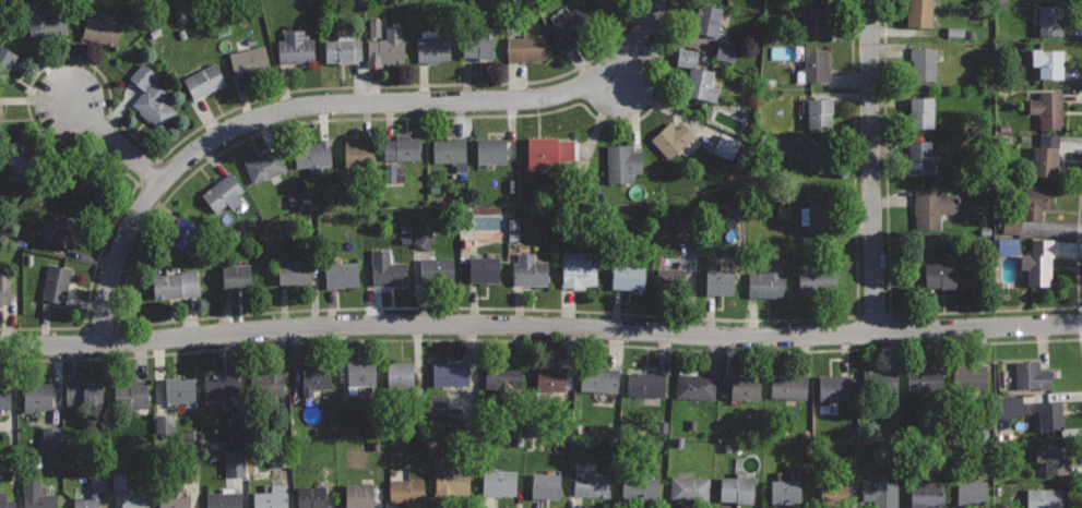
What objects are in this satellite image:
building: (608, 1)
building: (919, 13)
building: (815, 17)
building: (709, 19)
building: (1049, 20)
building: (46, 24)
building: (570, 27)
building: (102, 29)
road: (638, 35)
building: (478, 40)
building: (432, 46)
building: (296, 47)
building: (387, 47)
building: (343, 48)
building: (525, 48)
building: (723, 50)
building: (249, 61)
building: (5, 62)
building: (1048, 62)
building: (816, 64)
building: (924, 64)
building: (697, 74)
building: (204, 80)
building: (151, 96)
road: (292, 108)
building: (1050, 110)
building: (820, 112)
building: (922, 112)
road: (129, 134)
building: (671, 137)
road: (115, 141)
building: (402, 146)
building: (724, 146)
building: (451, 149)
building: (491, 149)
building: (552, 149)
building: (358, 153)
building: (312, 154)
building: (1046, 154)
building: (919, 156)
building: (22, 157)
building: (818, 157)
building: (622, 161)
building: (264, 165)
road: (873, 165)
building: (392, 172)
building: (91, 185)
building: (223, 192)
building: (1035, 201)
building: (931, 207)
building: (818, 213)
building: (1009, 227)
building: (66, 231)
building: (679, 232)
building: (185, 233)
building: (421, 239)
building: (1006, 246)
building: (579, 266)
building: (387, 268)
building: (484, 268)
building: (530, 269)
building: (1039, 269)
building: (295, 270)
building: (437, 270)
building: (342, 274)
building: (940, 274)
building: (628, 275)
building: (237, 276)
building: (816, 279)
building: (670, 280)
building: (721, 281)
building: (57, 282)
building: (766, 282)
building: (176, 283)
building: (5, 288)
road: (902, 312)
road: (257, 314)
road: (540, 325)
road: (550, 341)
building: (451, 372)
building: (360, 373)
building: (401, 373)
building: (1032, 374)
building: (316, 376)
building: (502, 377)
building: (968, 377)
building: (550, 378)
building: (598, 378)
building: (925, 378)
building: (880, 380)
building: (646, 384)
building: (740, 385)
building: (789, 385)
building: (222, 386)
building: (695, 386)
building: (267, 387)
building: (833, 387)
building: (180, 389)
building: (84, 391)
building: (131, 392)
building: (37, 395)
building: (5, 396)
building: (1008, 407)
building: (1050, 414)
building: (162, 424)
building: (49, 436)
building: (1053, 458)
building: (231, 462)
building: (844, 464)
building: (450, 476)
building: (117, 482)
building: (500, 482)
building: (546, 484)
building: (592, 484)
building: (737, 487)
building: (640, 488)
building: (689, 489)
building: (784, 489)
building: (407, 491)
building: (93, 492)
building: (972, 492)
building: (881, 493)
building: (359, 495)
building: (835, 495)
building: (927, 495)
building: (38, 496)
building: (312, 496)
building: (272, 497)
building: (1045, 497)
building: (224, 499)
building: (135, 501)
building: (175, 501)
building: (3, 503)

